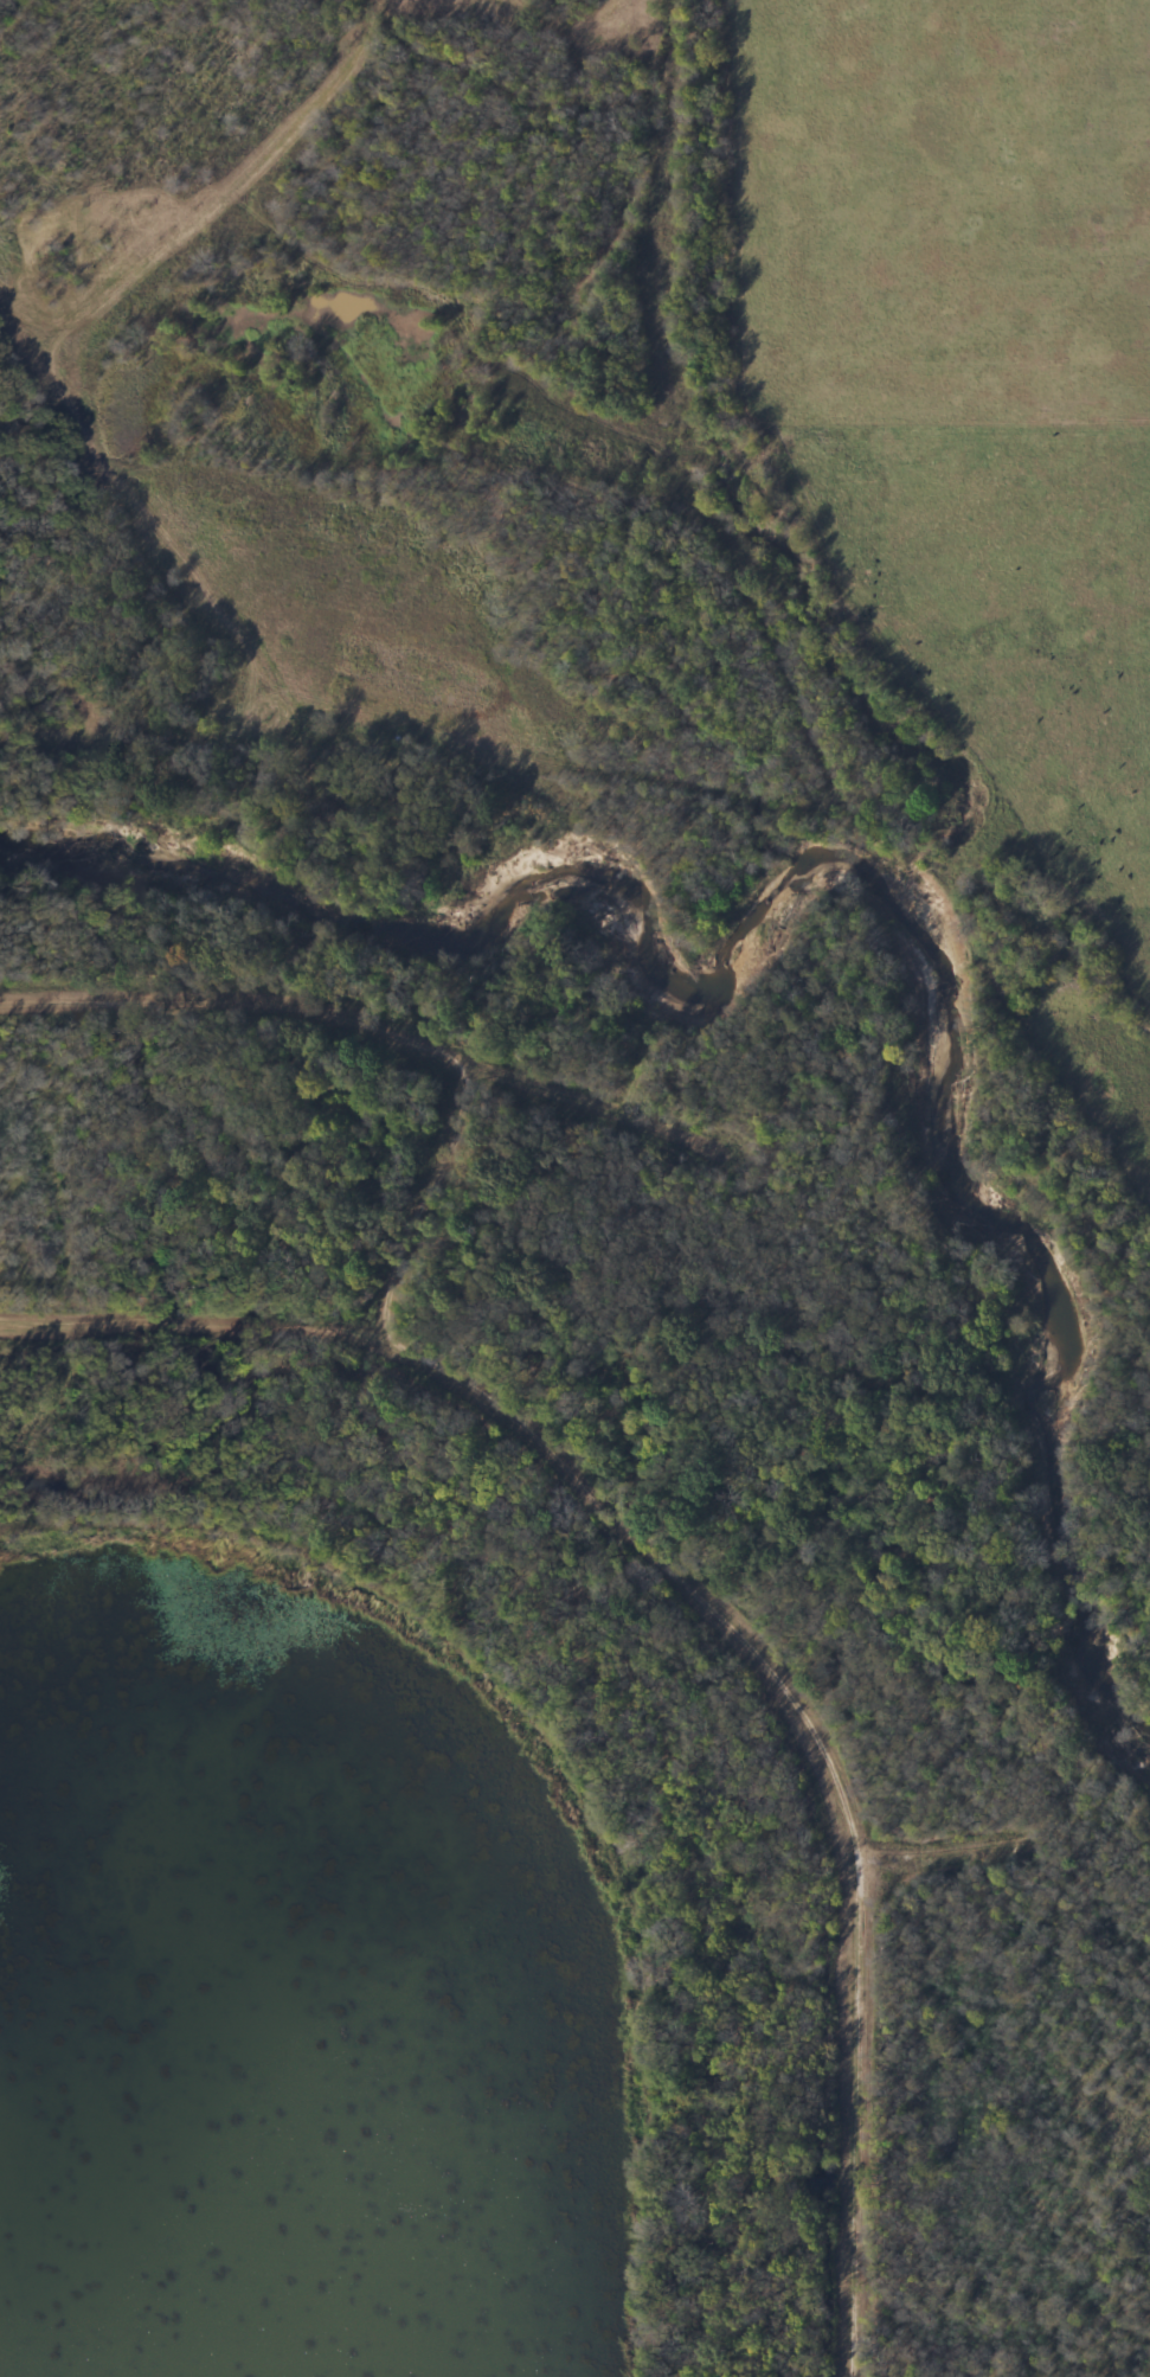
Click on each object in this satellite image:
road: (370, 1023)
road: (417, 1200)
road: (712, 1609)

